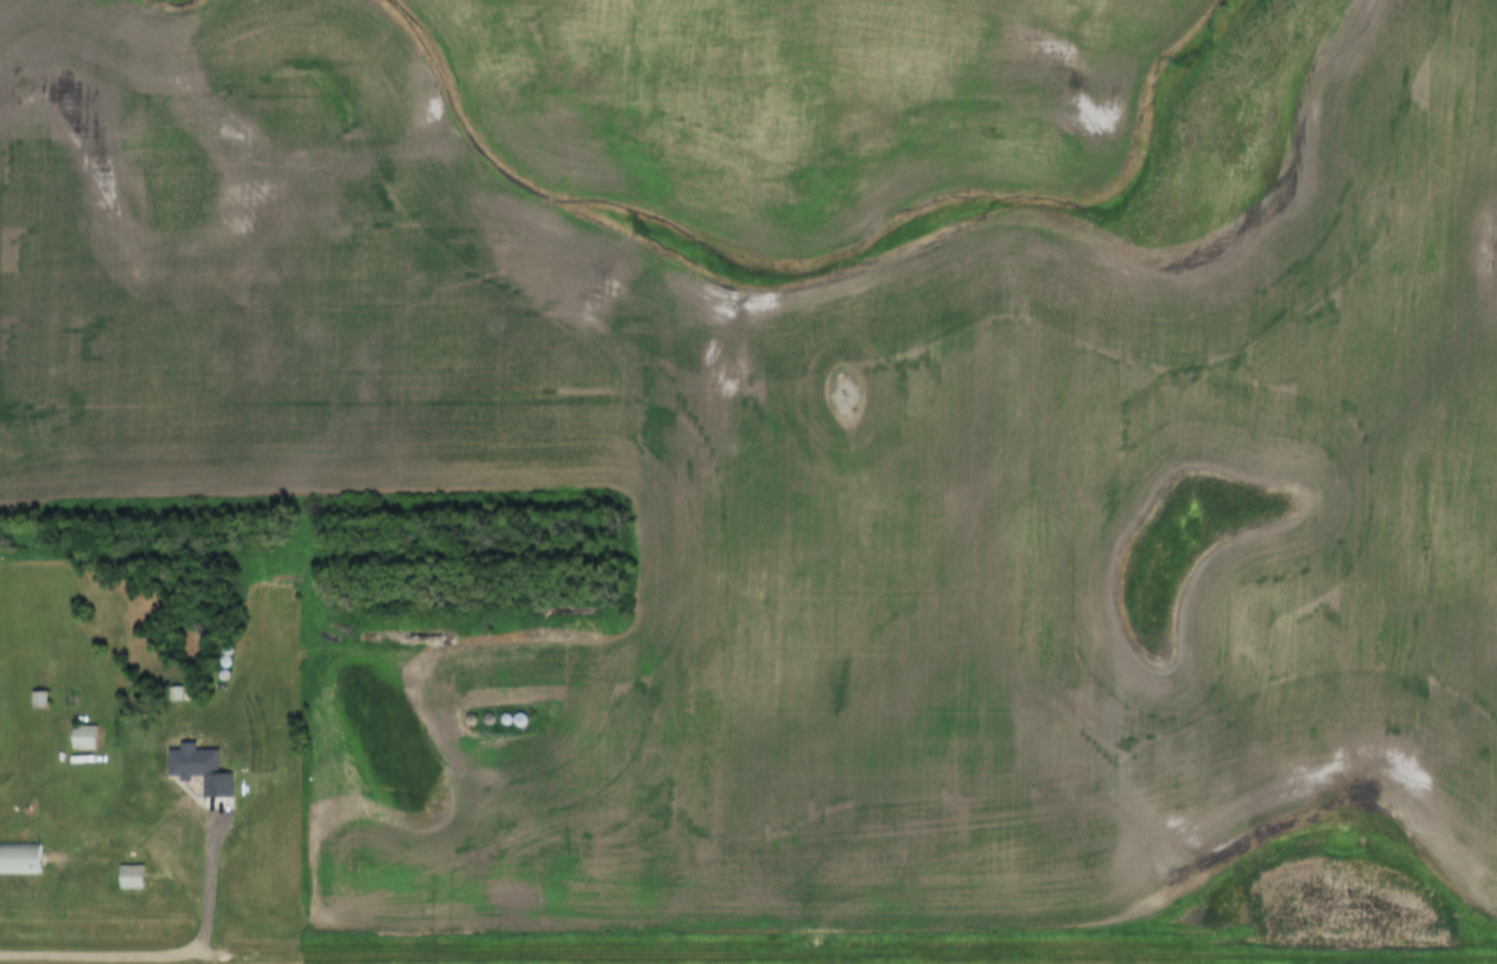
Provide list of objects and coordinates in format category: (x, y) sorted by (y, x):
building: (223, 655)
building: (173, 694)
building: (37, 700)
building: (81, 738)
building: (174, 748)
building: (186, 836)
building: (19, 859)
building: (129, 878)
road: (844, 955)
road: (124, 957)

